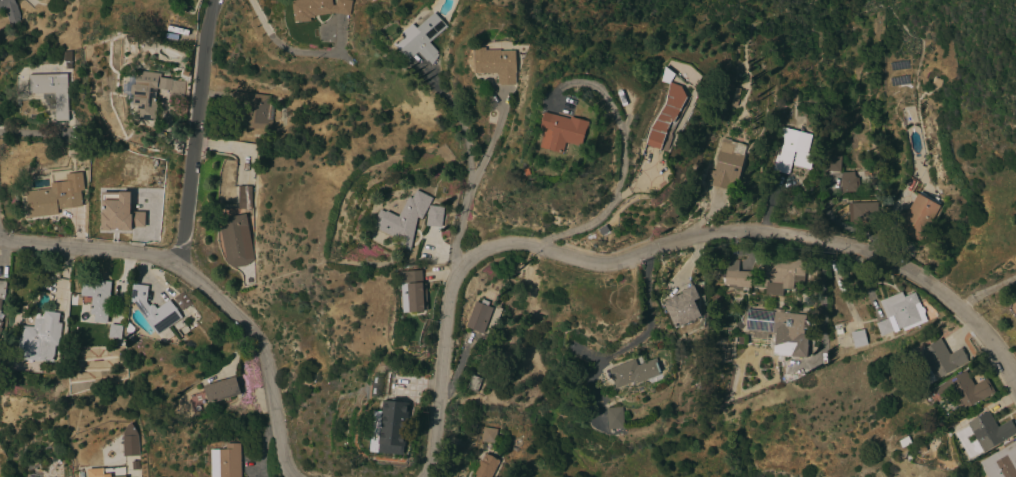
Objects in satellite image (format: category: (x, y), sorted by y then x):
building: (318, 8)
building: (9, 11)
building: (421, 38)
road: (289, 49)
building: (416, 64)
building: (495, 64)
building: (184, 74)
building: (52, 91)
building: (152, 92)
building: (734, 97)
building: (252, 109)
building: (666, 118)
road: (199, 127)
road: (493, 131)
road: (36, 132)
building: (562, 132)
building: (792, 151)
road: (622, 158)
building: (833, 163)
building: (726, 165)
building: (848, 182)
building: (83, 196)
building: (243, 197)
building: (51, 200)
road: (462, 208)
building: (862, 213)
building: (433, 216)
building: (918, 216)
building: (402, 219)
building: (235, 240)
road: (651, 249)
building: (779, 274)
building: (736, 276)
road: (205, 285)
building: (2, 289)
building: (413, 293)
road: (820, 293)
building: (96, 298)
building: (716, 299)
building: (185, 305)
building: (681, 307)
building: (902, 311)
building: (154, 312)
building: (1, 316)
building: (478, 316)
building: (0, 323)
building: (778, 326)
building: (883, 327)
building: (0, 329)
building: (129, 330)
building: (114, 331)
building: (836, 332)
building: (858, 338)
building: (40, 339)
building: (740, 339)
road: (635, 340)
building: (941, 358)
building: (633, 372)
building: (473, 383)
building: (374, 386)
building: (221, 389)
building: (964, 390)
building: (614, 418)
building: (390, 427)
park: (828, 429)
building: (983, 434)
building: (488, 435)
building: (128, 439)
building: (226, 461)
building: (1001, 462)
building: (485, 466)
building: (97, 473)
building: (120, 476)

